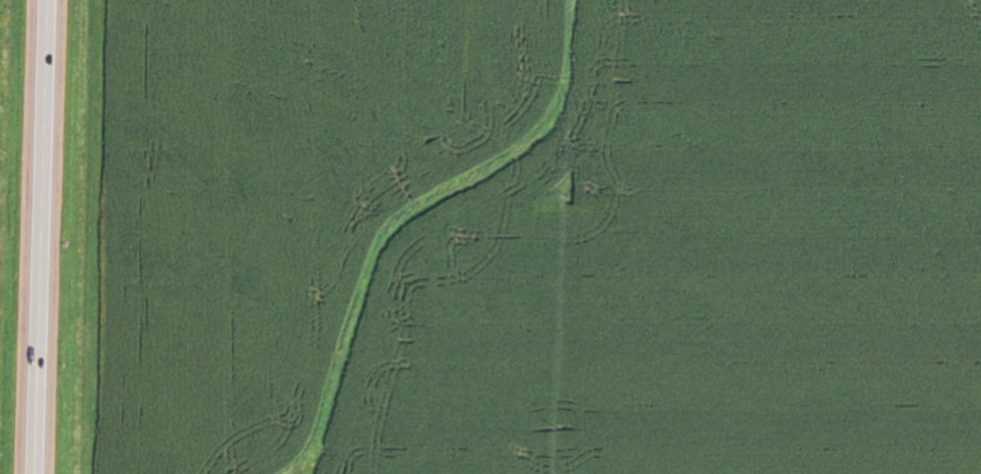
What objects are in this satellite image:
road: (45, 237)

